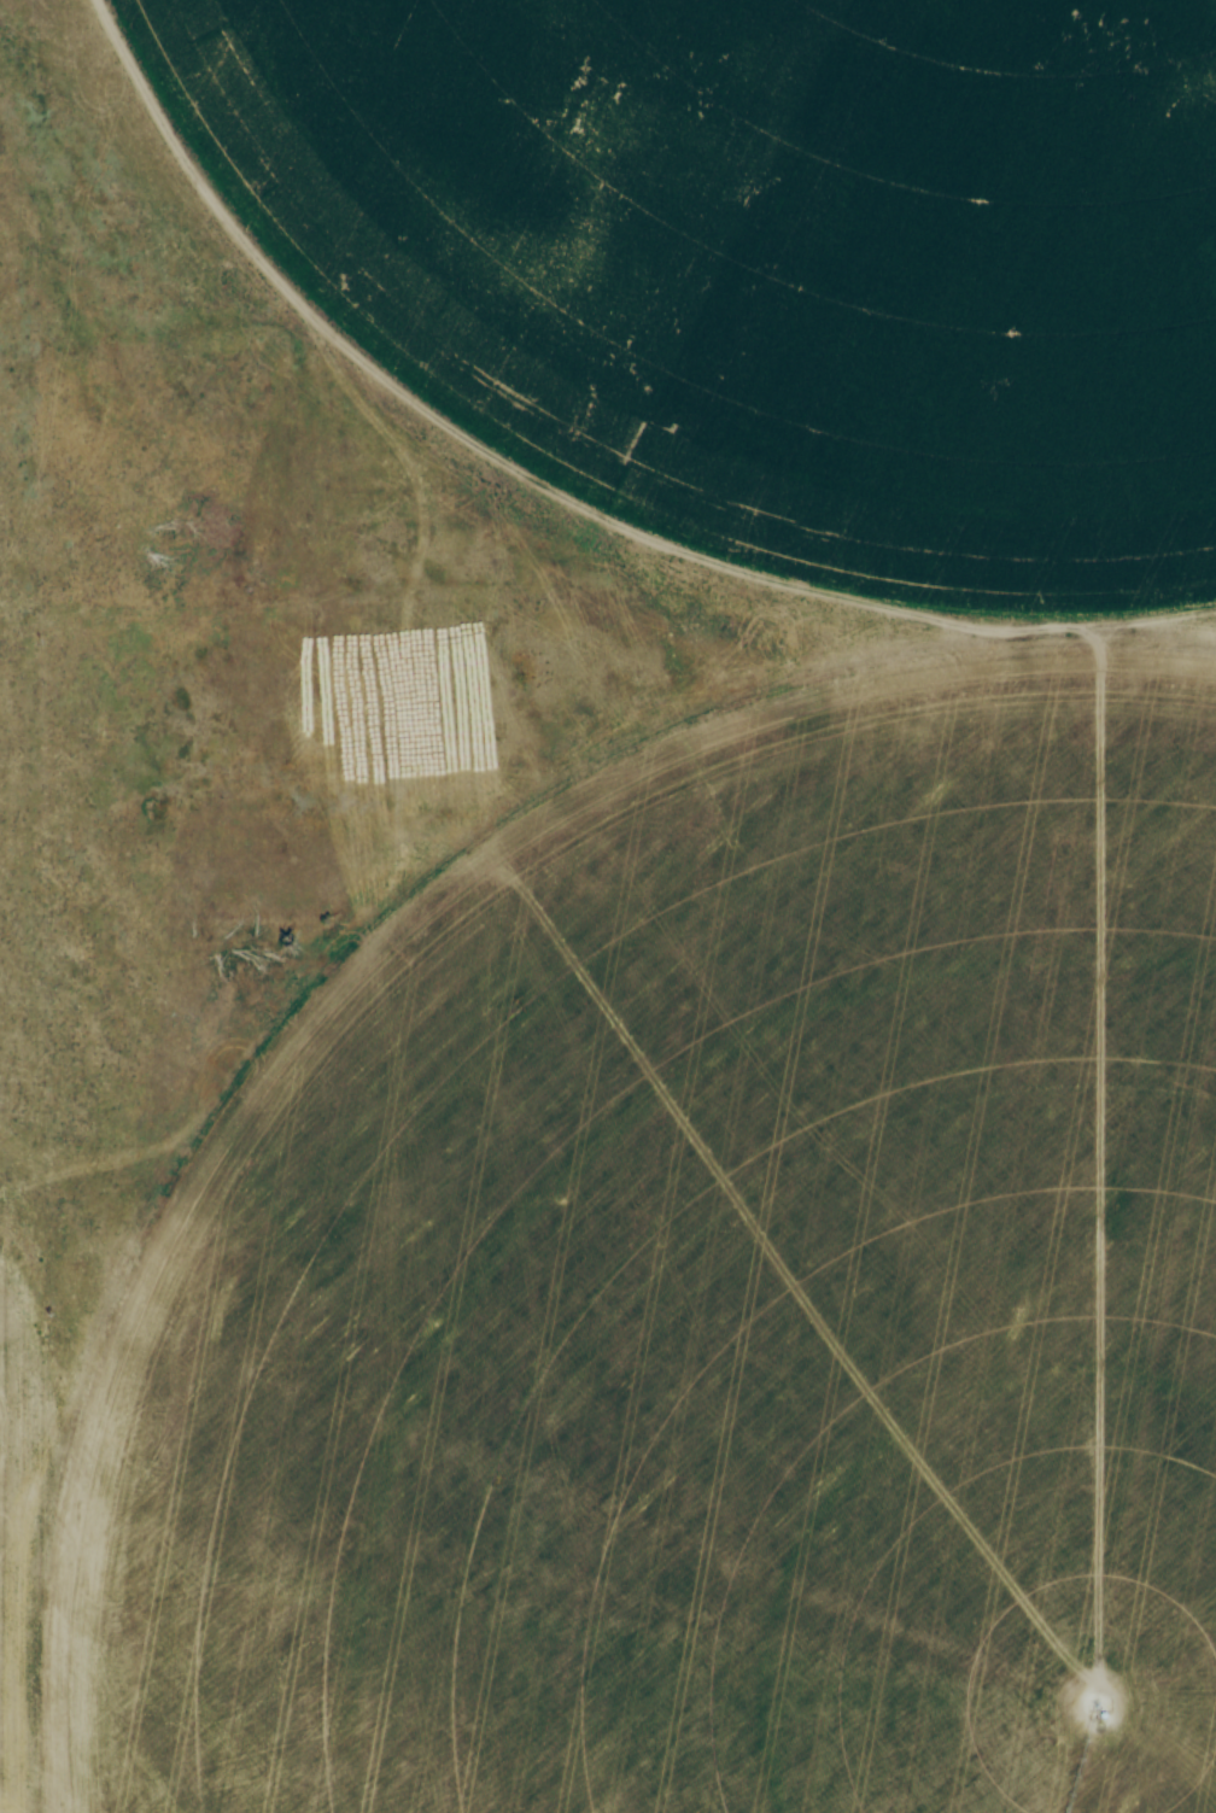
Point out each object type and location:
crop: (778, 255)
crop: (698, 1298)

